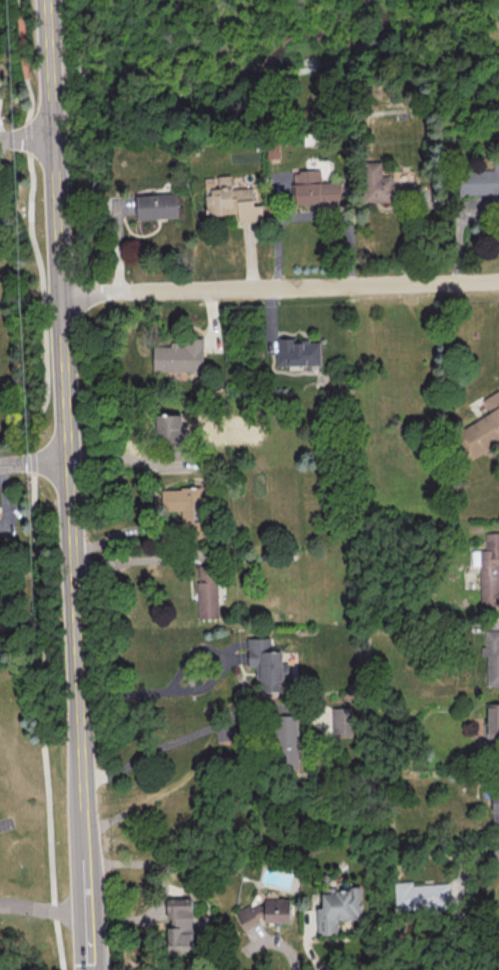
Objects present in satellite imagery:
road: (18, 4)
road: (21, 43)
road: (26, 137)
building: (273, 151)
building: (480, 181)
building: (377, 184)
building: (316, 189)
building: (231, 200)
building: (157, 206)
road: (314, 216)
road: (279, 284)
building: (298, 351)
building: (179, 356)
building: (169, 429)
road: (67, 430)
building: (481, 430)
road: (34, 461)
building: (185, 506)
road: (35, 521)
road: (143, 561)
building: (488, 570)
building: (207, 591)
building: (491, 656)
building: (266, 665)
road: (199, 685)
building: (492, 720)
building: (341, 721)
road: (178, 740)
building: (286, 743)
building: (495, 808)
road: (3, 826)
building: (421, 897)
building: (337, 908)
road: (45, 909)
building: (276, 910)
road: (91, 915)
building: (249, 915)
building: (179, 926)

